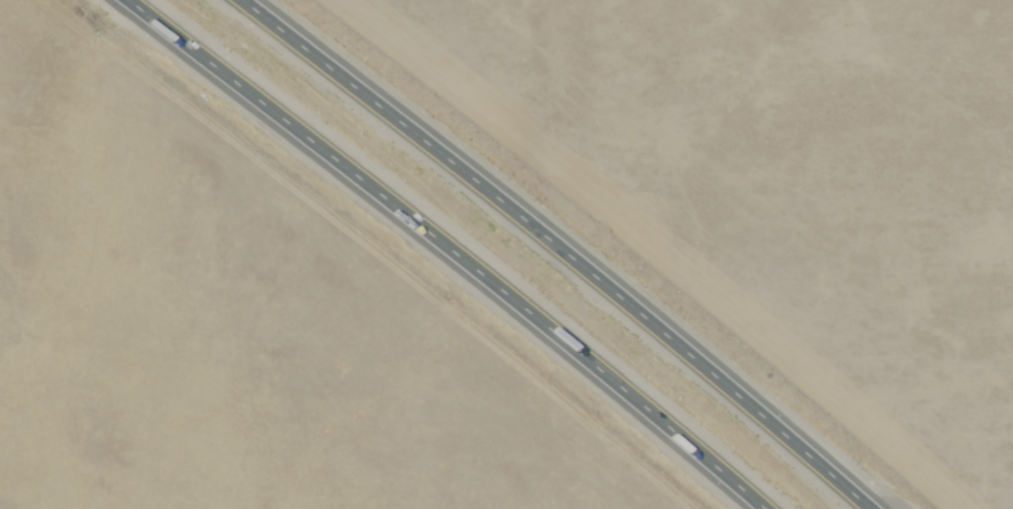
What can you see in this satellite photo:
crop: (781, 182)
road: (449, 248)
road: (563, 248)

